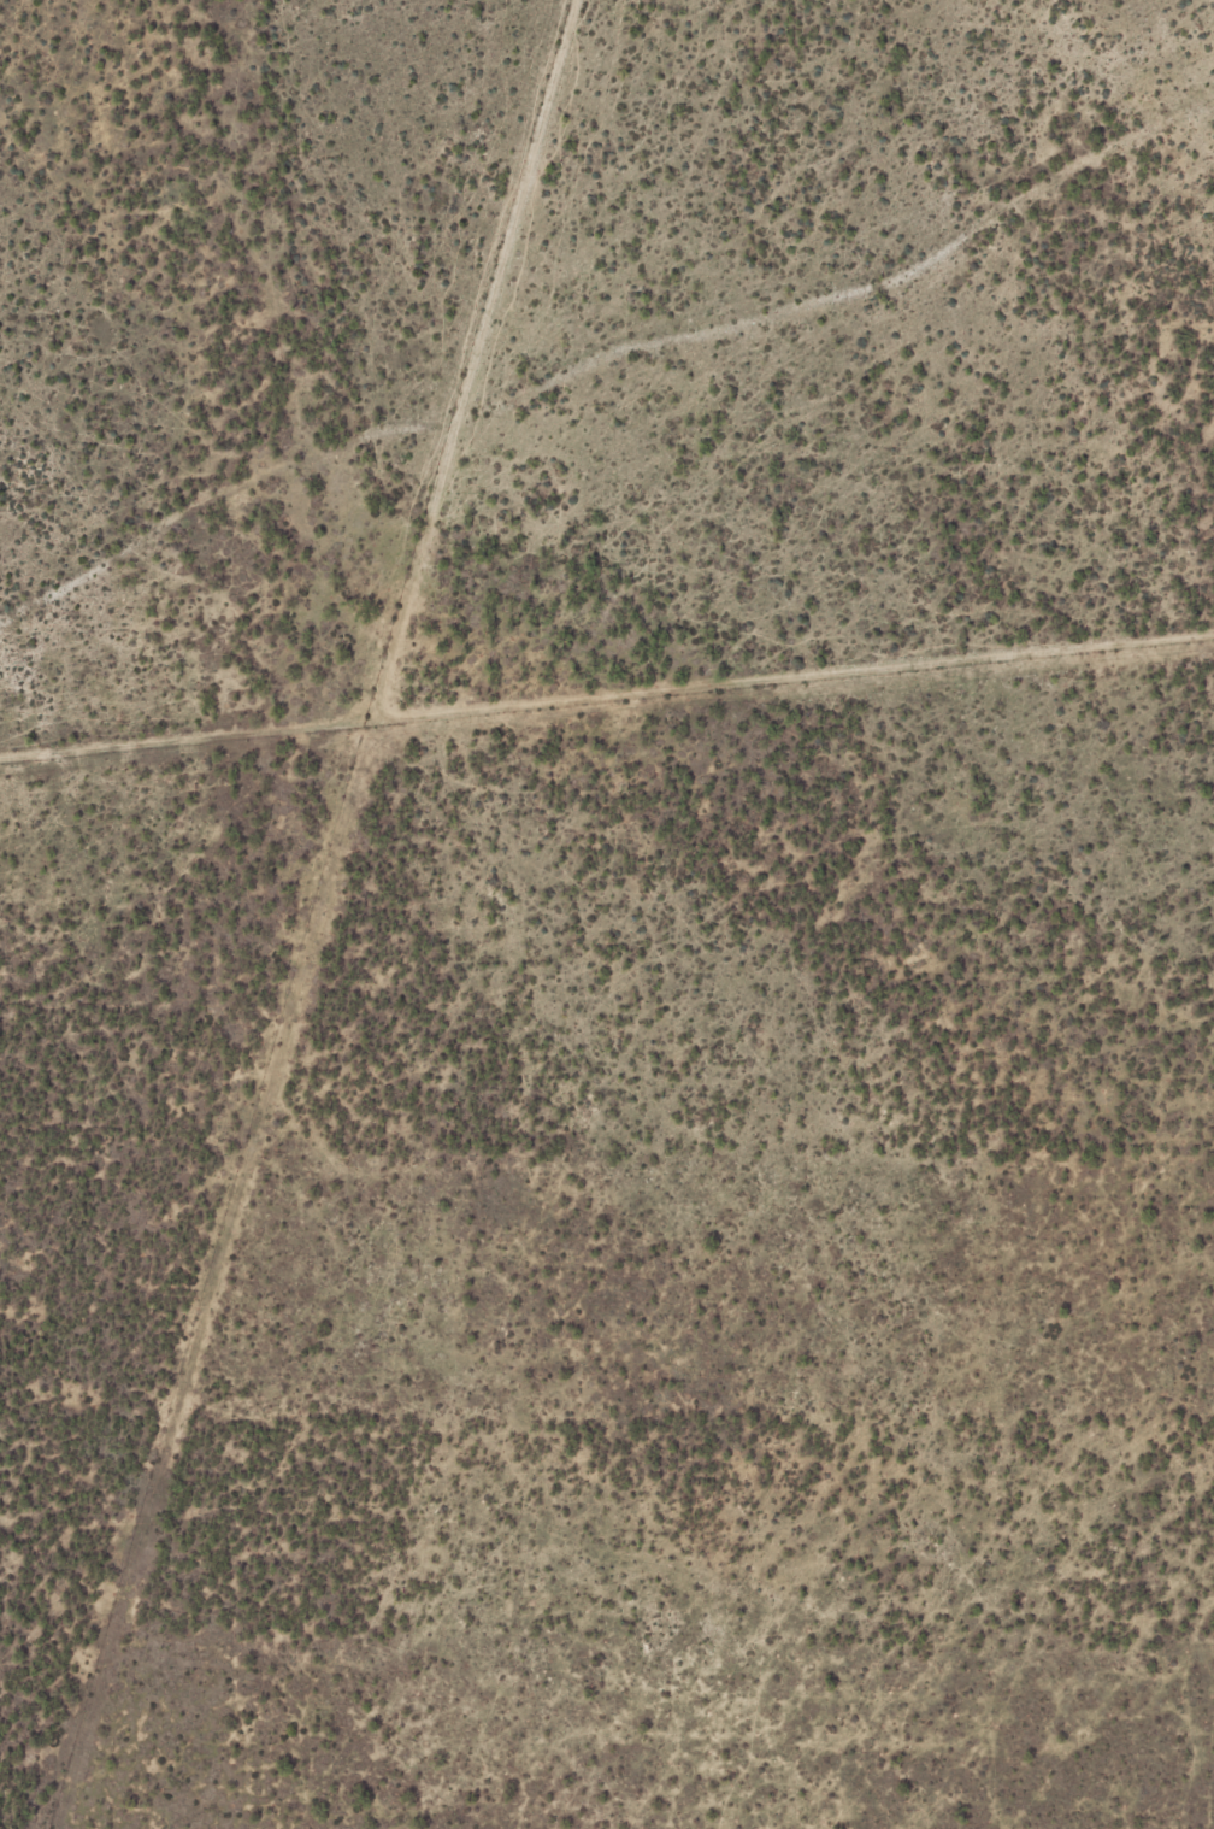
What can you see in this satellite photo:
road: (602, 382)

